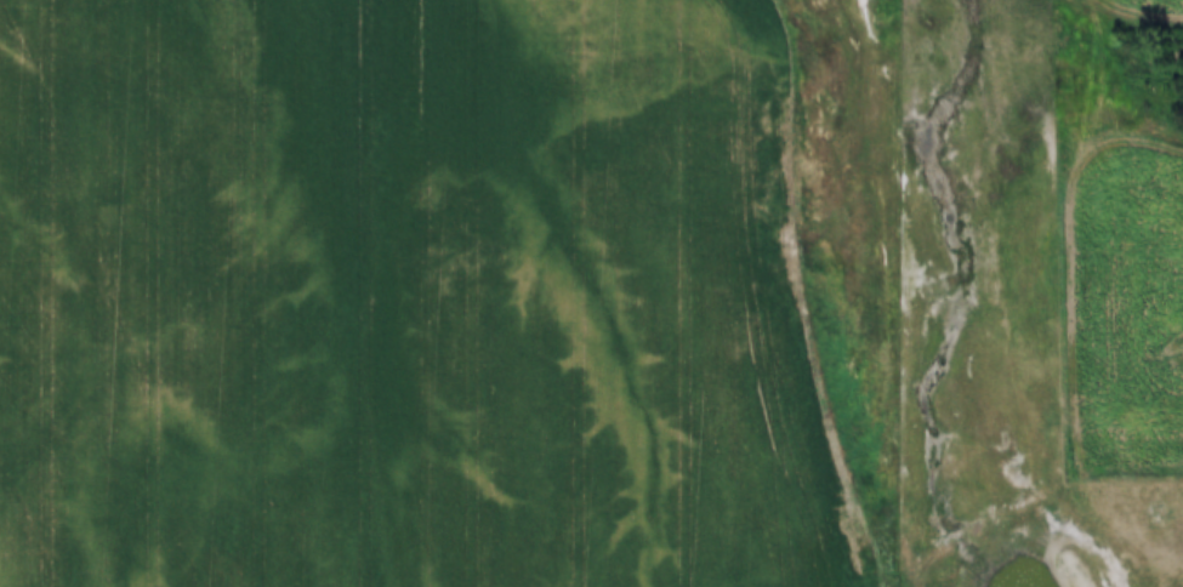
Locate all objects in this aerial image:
road: (1086, 285)

